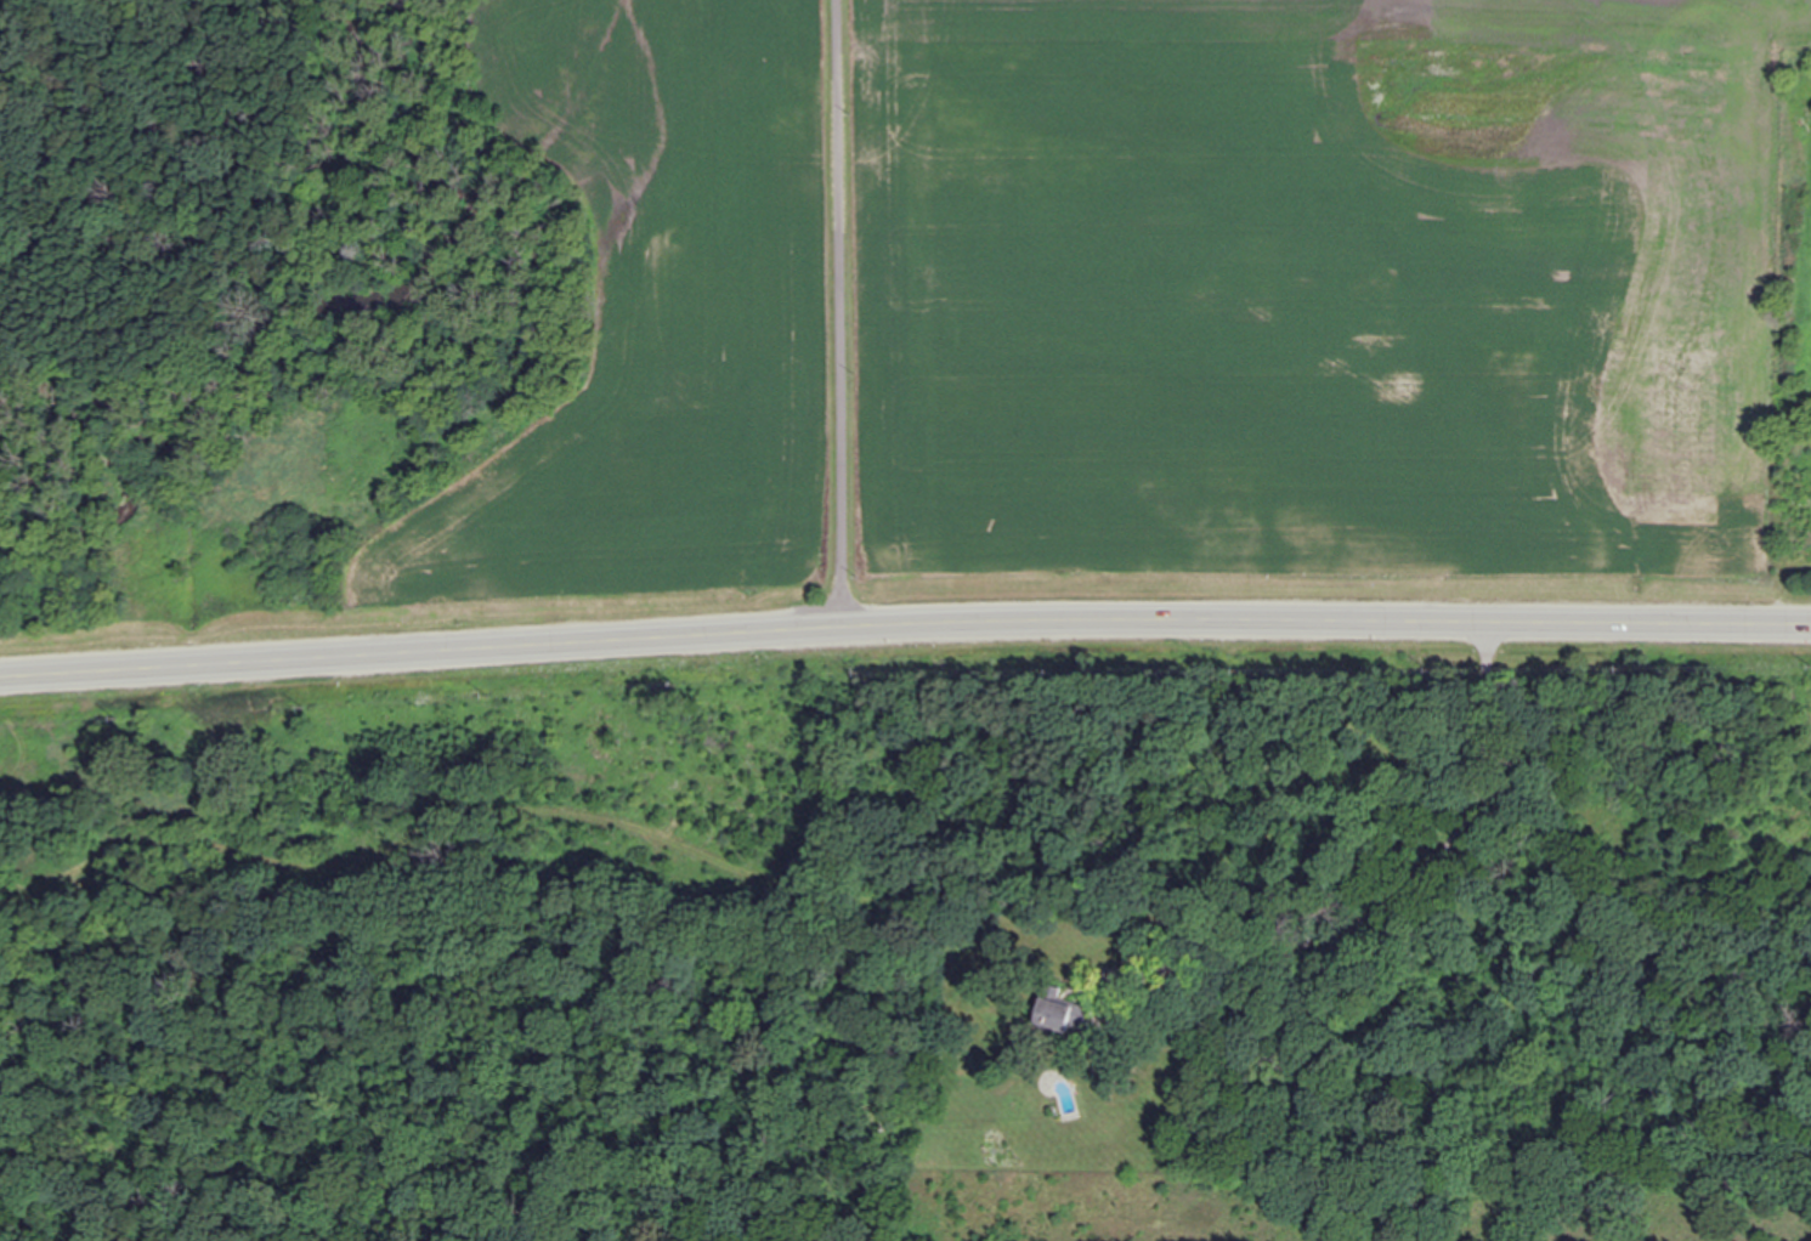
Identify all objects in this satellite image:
road: (842, 319)
road: (905, 639)
building: (1054, 1013)

